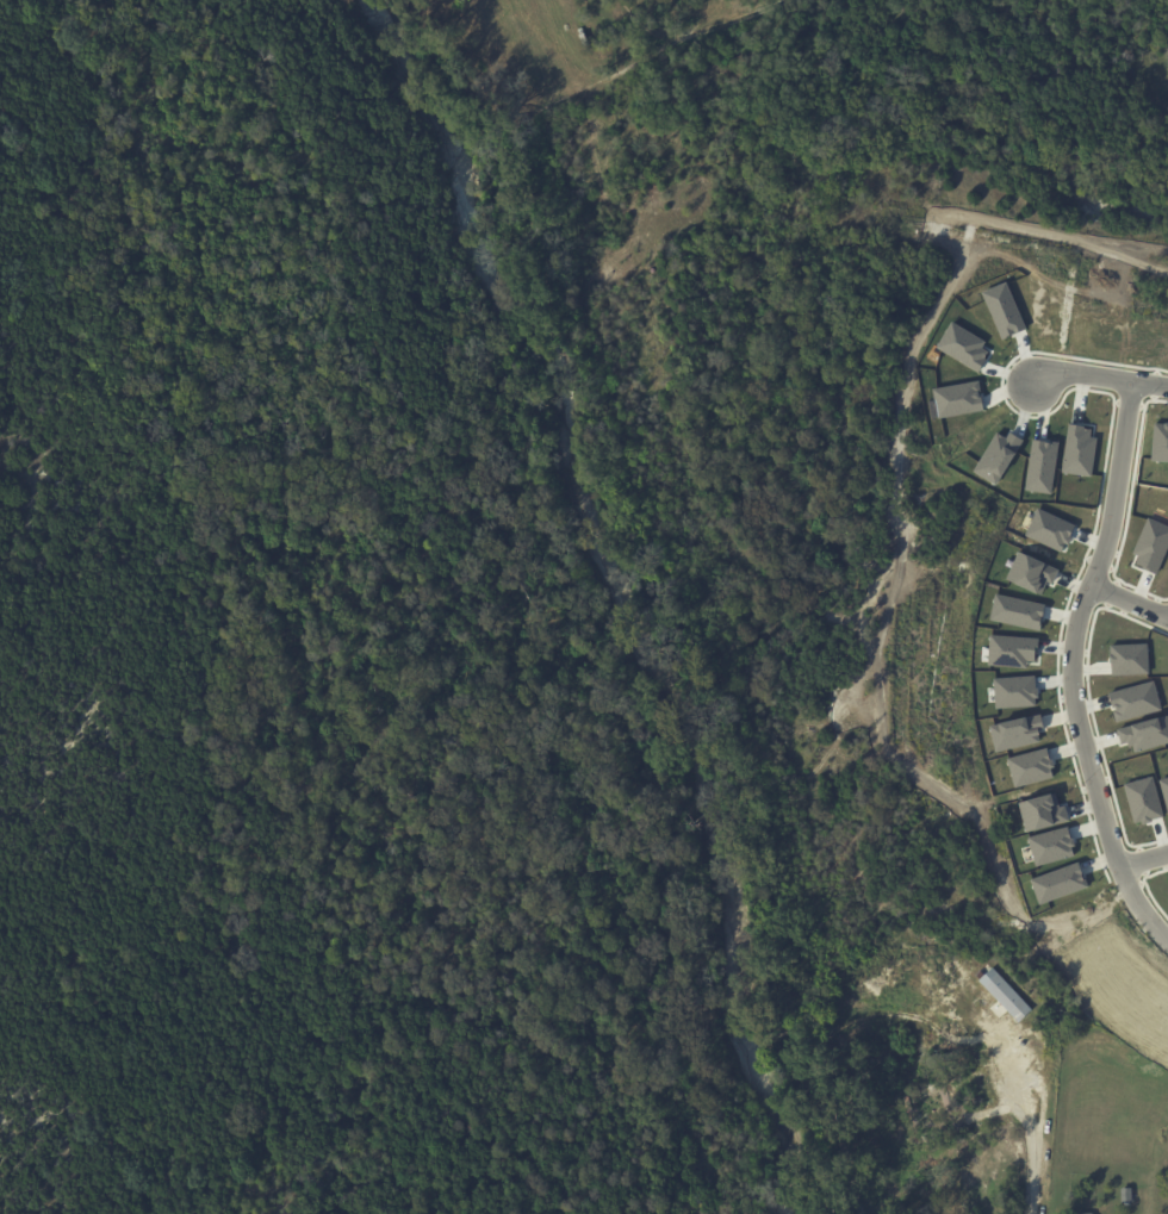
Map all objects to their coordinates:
road: (688, 32)
road: (1062, 248)
building: (1005, 310)
building: (963, 345)
road: (1162, 361)
road: (1096, 368)
building: (958, 399)
building: (1160, 442)
building: (1079, 450)
building: (998, 456)
building: (1042, 466)
building: (1050, 529)
building: (1151, 546)
building: (1031, 572)
road: (1135, 592)
building: (1018, 611)
building: (1012, 650)
road: (1082, 654)
building: (1129, 659)
building: (1015, 692)
building: (1135, 701)
building: (1015, 733)
building: (1144, 734)
building: (1031, 767)
building: (1164, 790)
building: (1144, 799)
building: (1043, 811)
building: (1051, 846)
road: (1149, 854)
building: (1058, 882)
building: (924, 955)
building: (1007, 995)
road: (1036, 1127)
building: (1127, 1194)
building: (1082, 1213)

